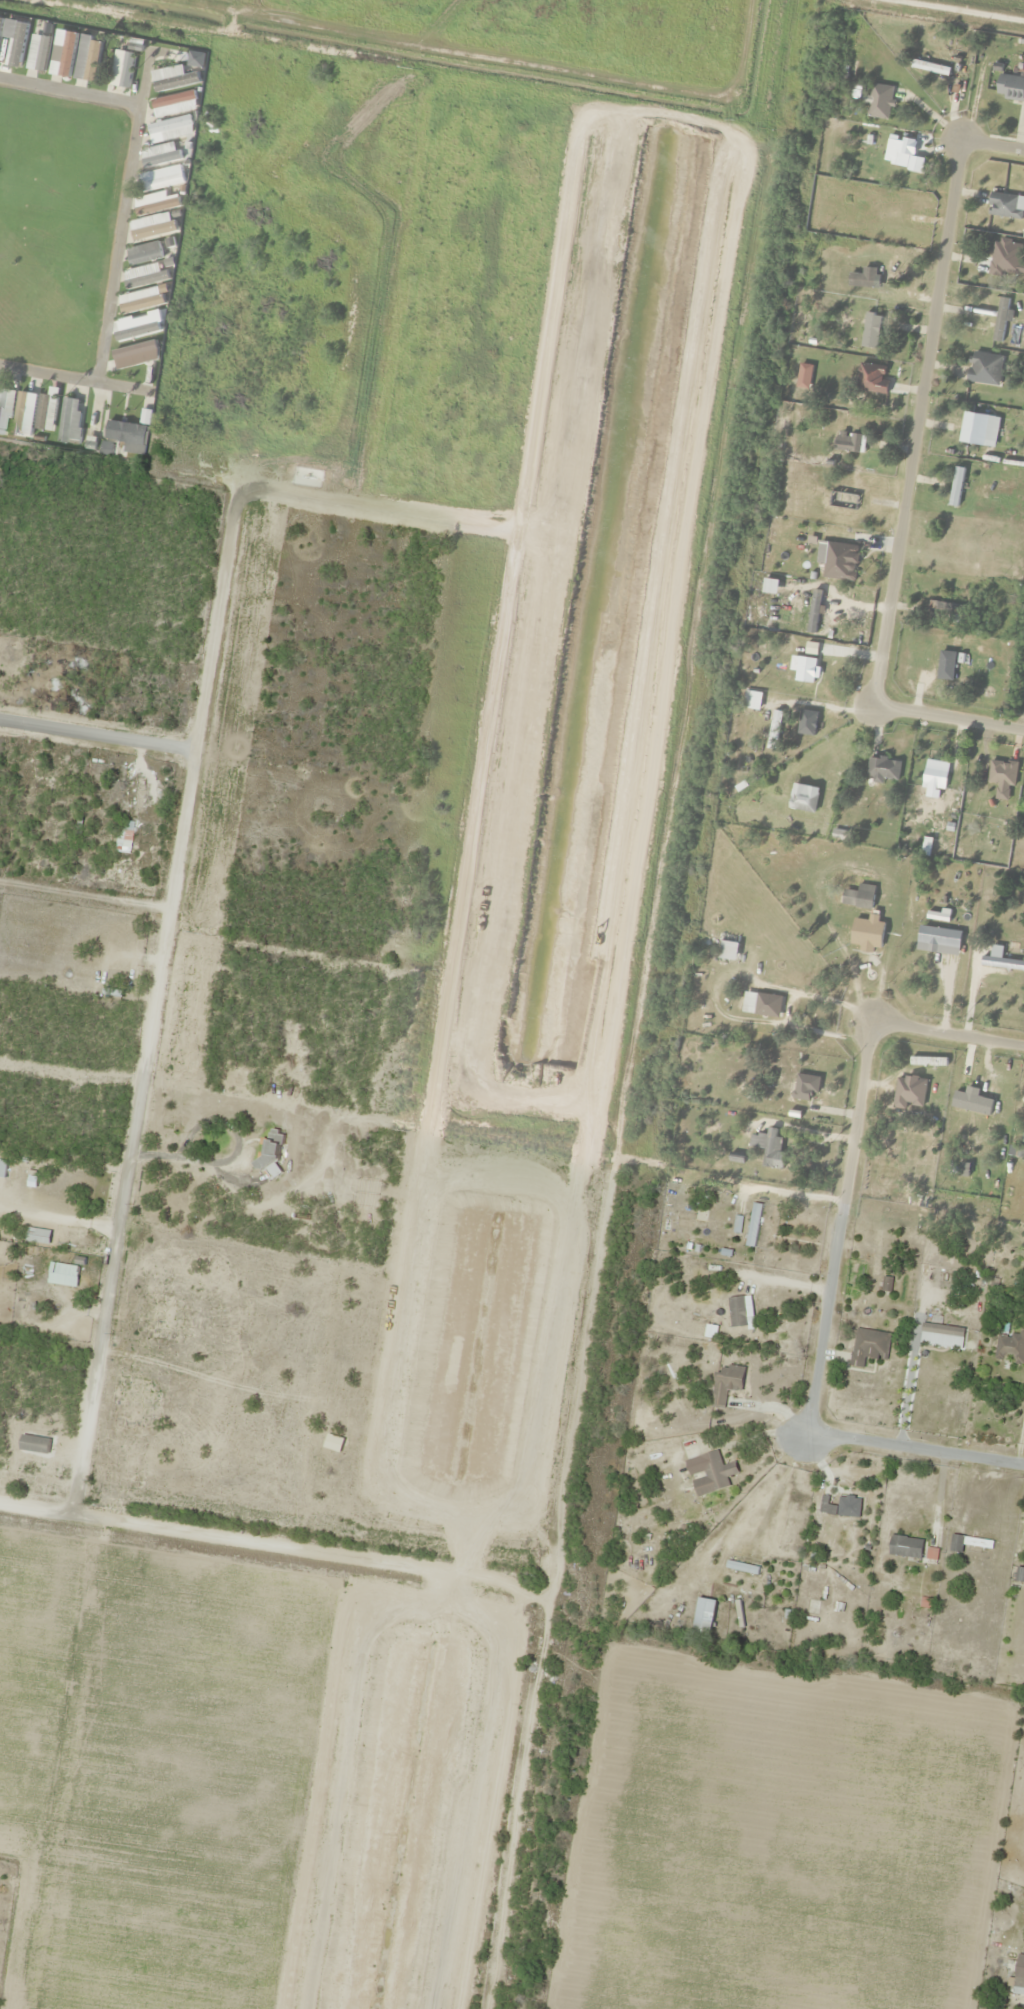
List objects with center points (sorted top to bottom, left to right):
road: (742, 28)
building: (12, 43)
building: (37, 53)
building: (62, 53)
building: (86, 59)
building: (929, 68)
building: (121, 69)
building: (177, 77)
building: (1010, 87)
building: (879, 102)
building: (173, 105)
building: (170, 130)
road: (992, 144)
building: (157, 151)
building: (896, 152)
building: (160, 179)
building: (154, 204)
building: (1003, 206)
road: (122, 220)
building: (151, 227)
building: (143, 254)
building: (1002, 270)
building: (144, 277)
building: (862, 278)
building: (140, 301)
building: (1000, 320)
building: (870, 331)
building: (134, 356)
building: (984, 369)
building: (871, 379)
building: (6, 405)
building: (23, 411)
building: (46, 411)
building: (68, 419)
building: (977, 429)
building: (126, 433)
building: (849, 443)
building: (955, 487)
road: (903, 498)
building: (832, 559)
building: (814, 612)
building: (947, 612)
road: (216, 615)
building: (931, 656)
building: (774, 730)
building: (883, 769)
building: (1002, 775)
building: (933, 783)
building: (858, 897)
building: (867, 934)
building: (938, 937)
building: (727, 951)
building: (999, 961)
railway: (668, 1004)
building: (761, 1005)
road: (949, 1036)
building: (926, 1062)
road: (142, 1070)
building: (804, 1088)
building: (909, 1093)
building: (1023, 1135)
building: (768, 1148)
building: (273, 1152)
building: (753, 1225)
road: (839, 1230)
building: (23, 1274)
building: (63, 1274)
building: (740, 1311)
building: (942, 1336)
building: (869, 1347)
building: (1010, 1347)
building: (726, 1383)
road: (914, 1451)
building: (717, 1471)
building: (840, 1503)
building: (967, 1542)
building: (905, 1546)
road: (283, 1547)
building: (742, 1567)
building: (1020, 1574)
building: (1019, 1971)

